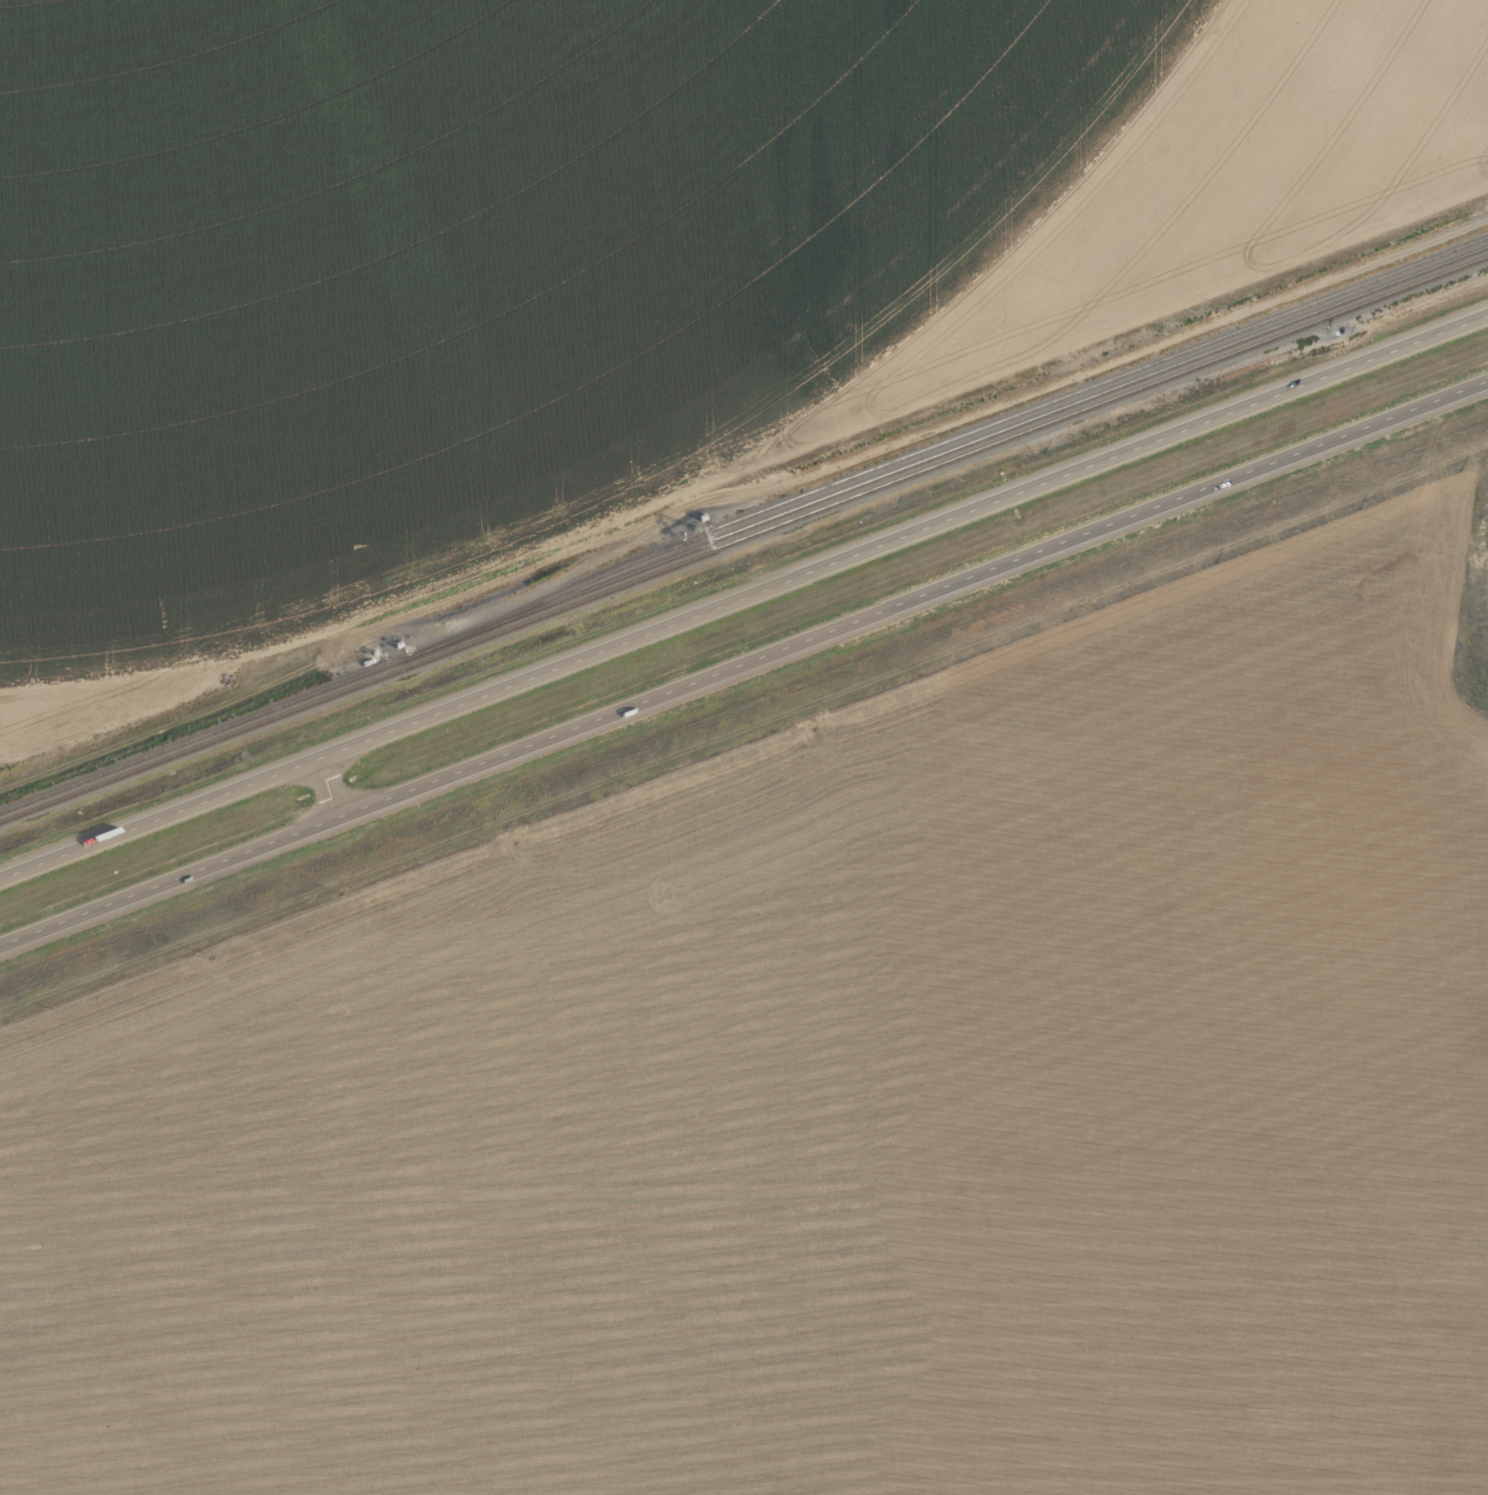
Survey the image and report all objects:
railway: (945, 443)
railway: (744, 530)
railway: (743, 538)
road: (743, 596)
road: (744, 661)

